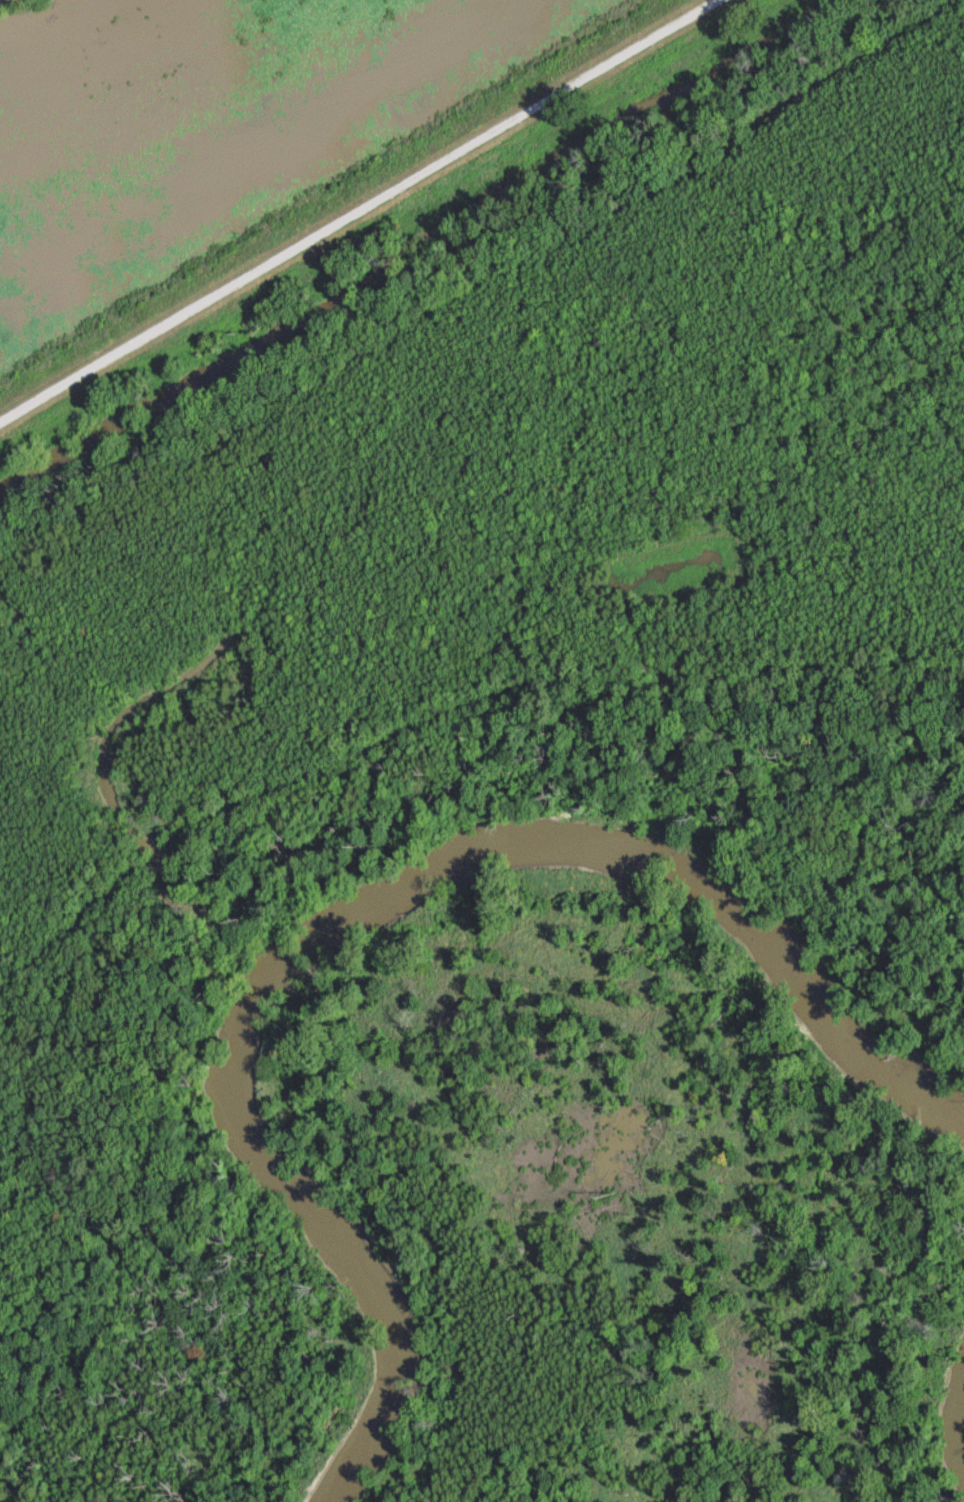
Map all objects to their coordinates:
road: (356, 209)
road: (949, 664)

